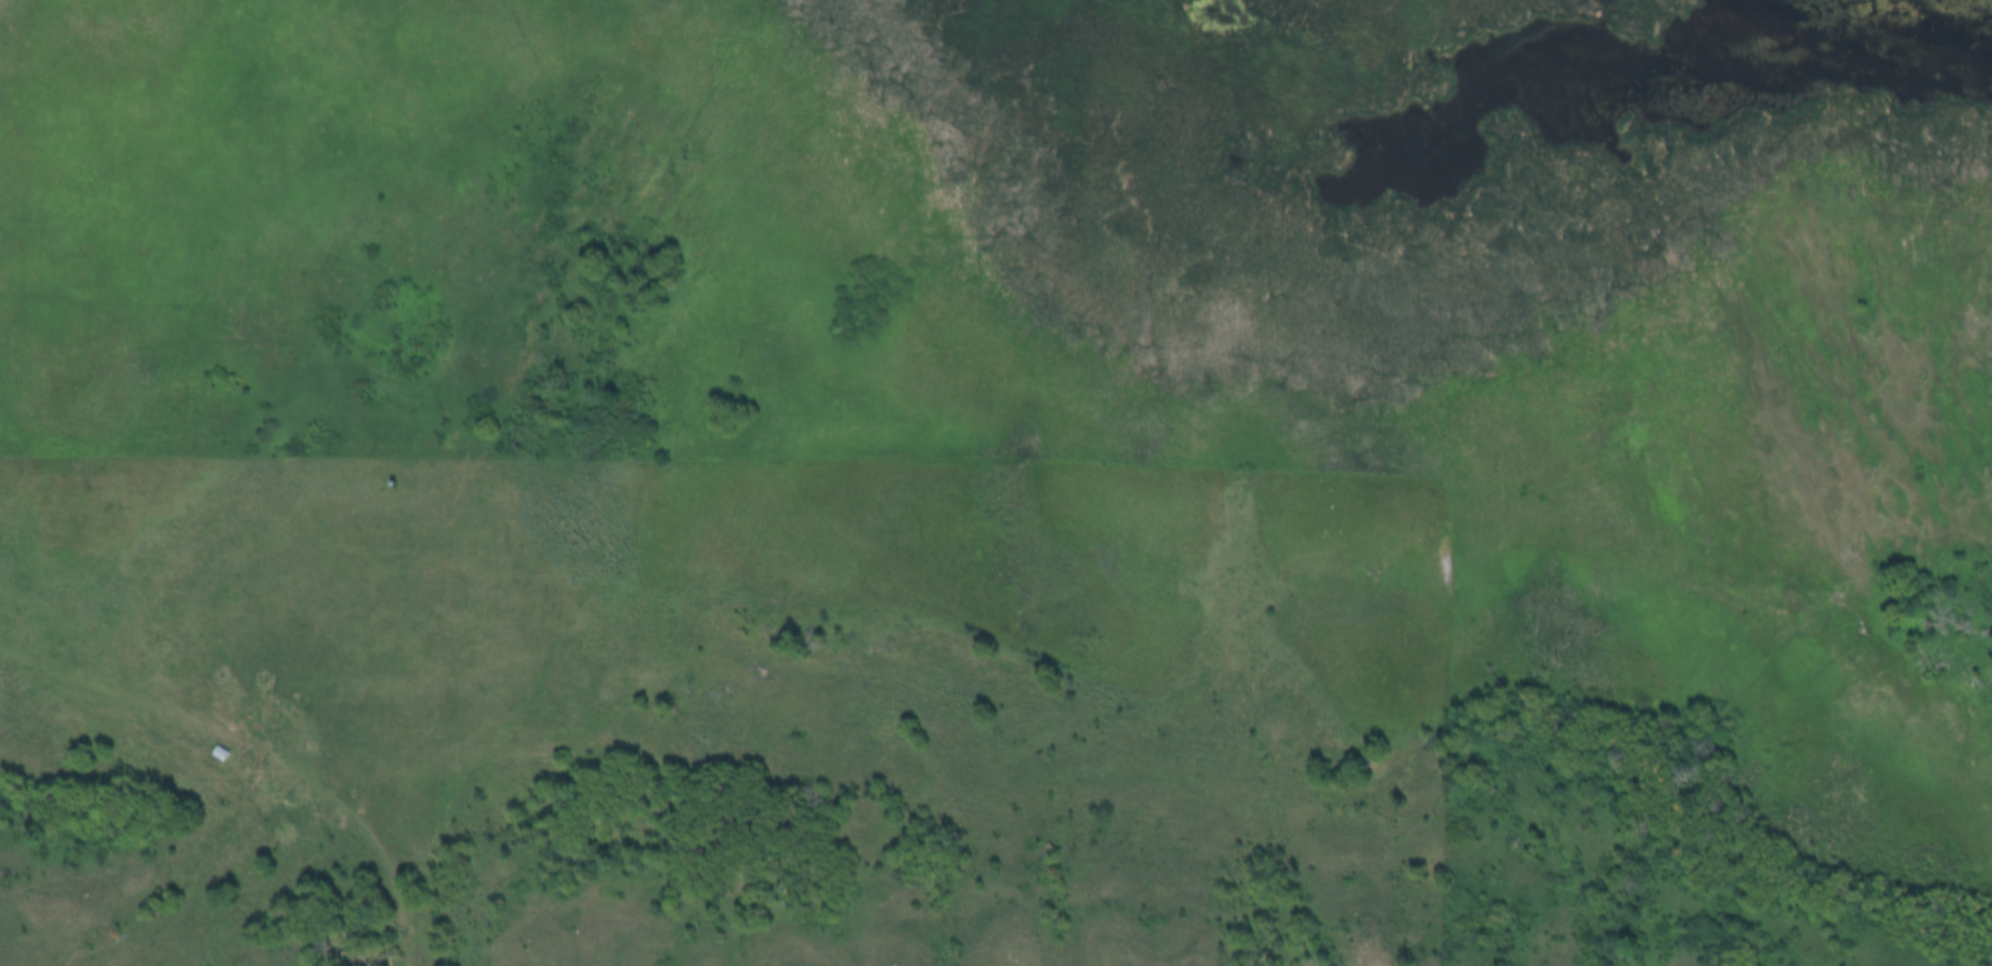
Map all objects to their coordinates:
building: (220, 755)
road: (252, 759)
quarry: (1342, 953)

